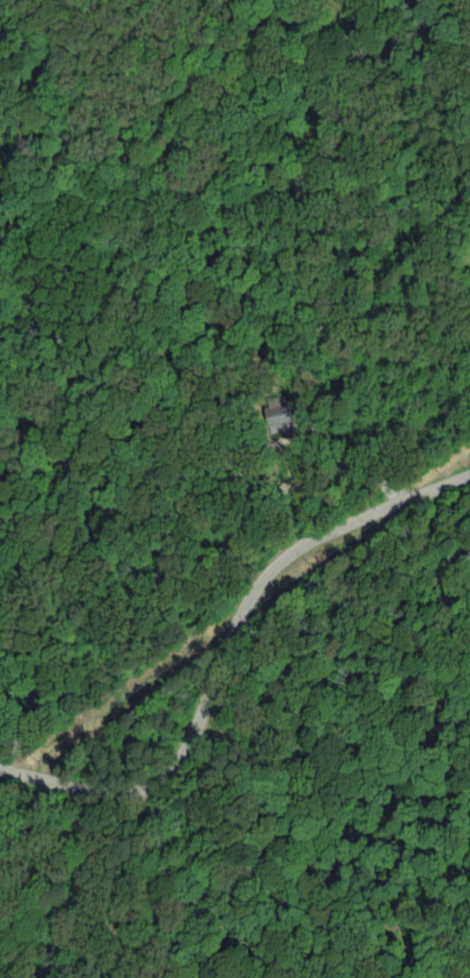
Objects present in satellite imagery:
road: (228, 650)

